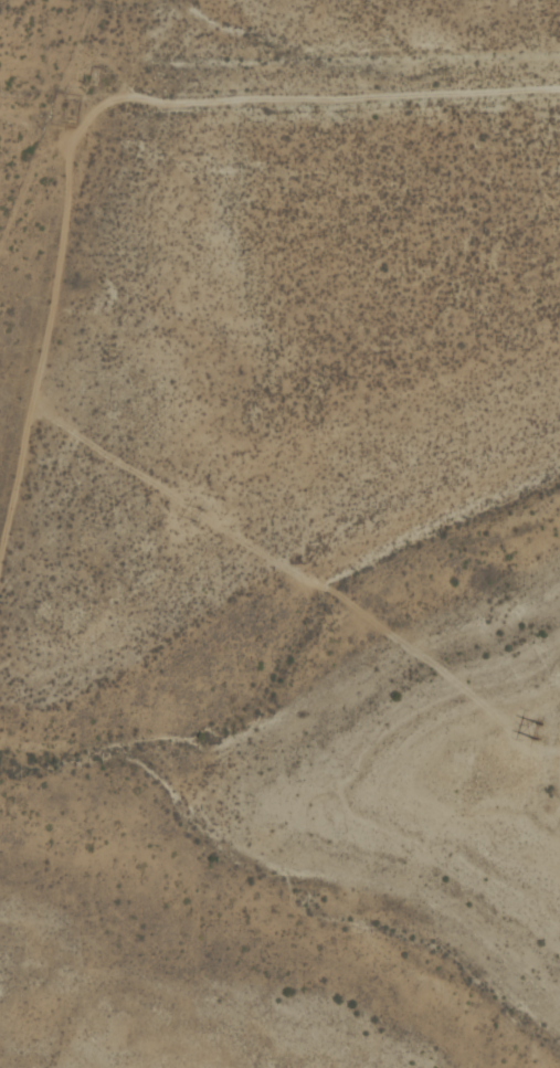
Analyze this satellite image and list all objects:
road: (33, 330)
power tower: (199, 515)
power tower: (538, 731)

